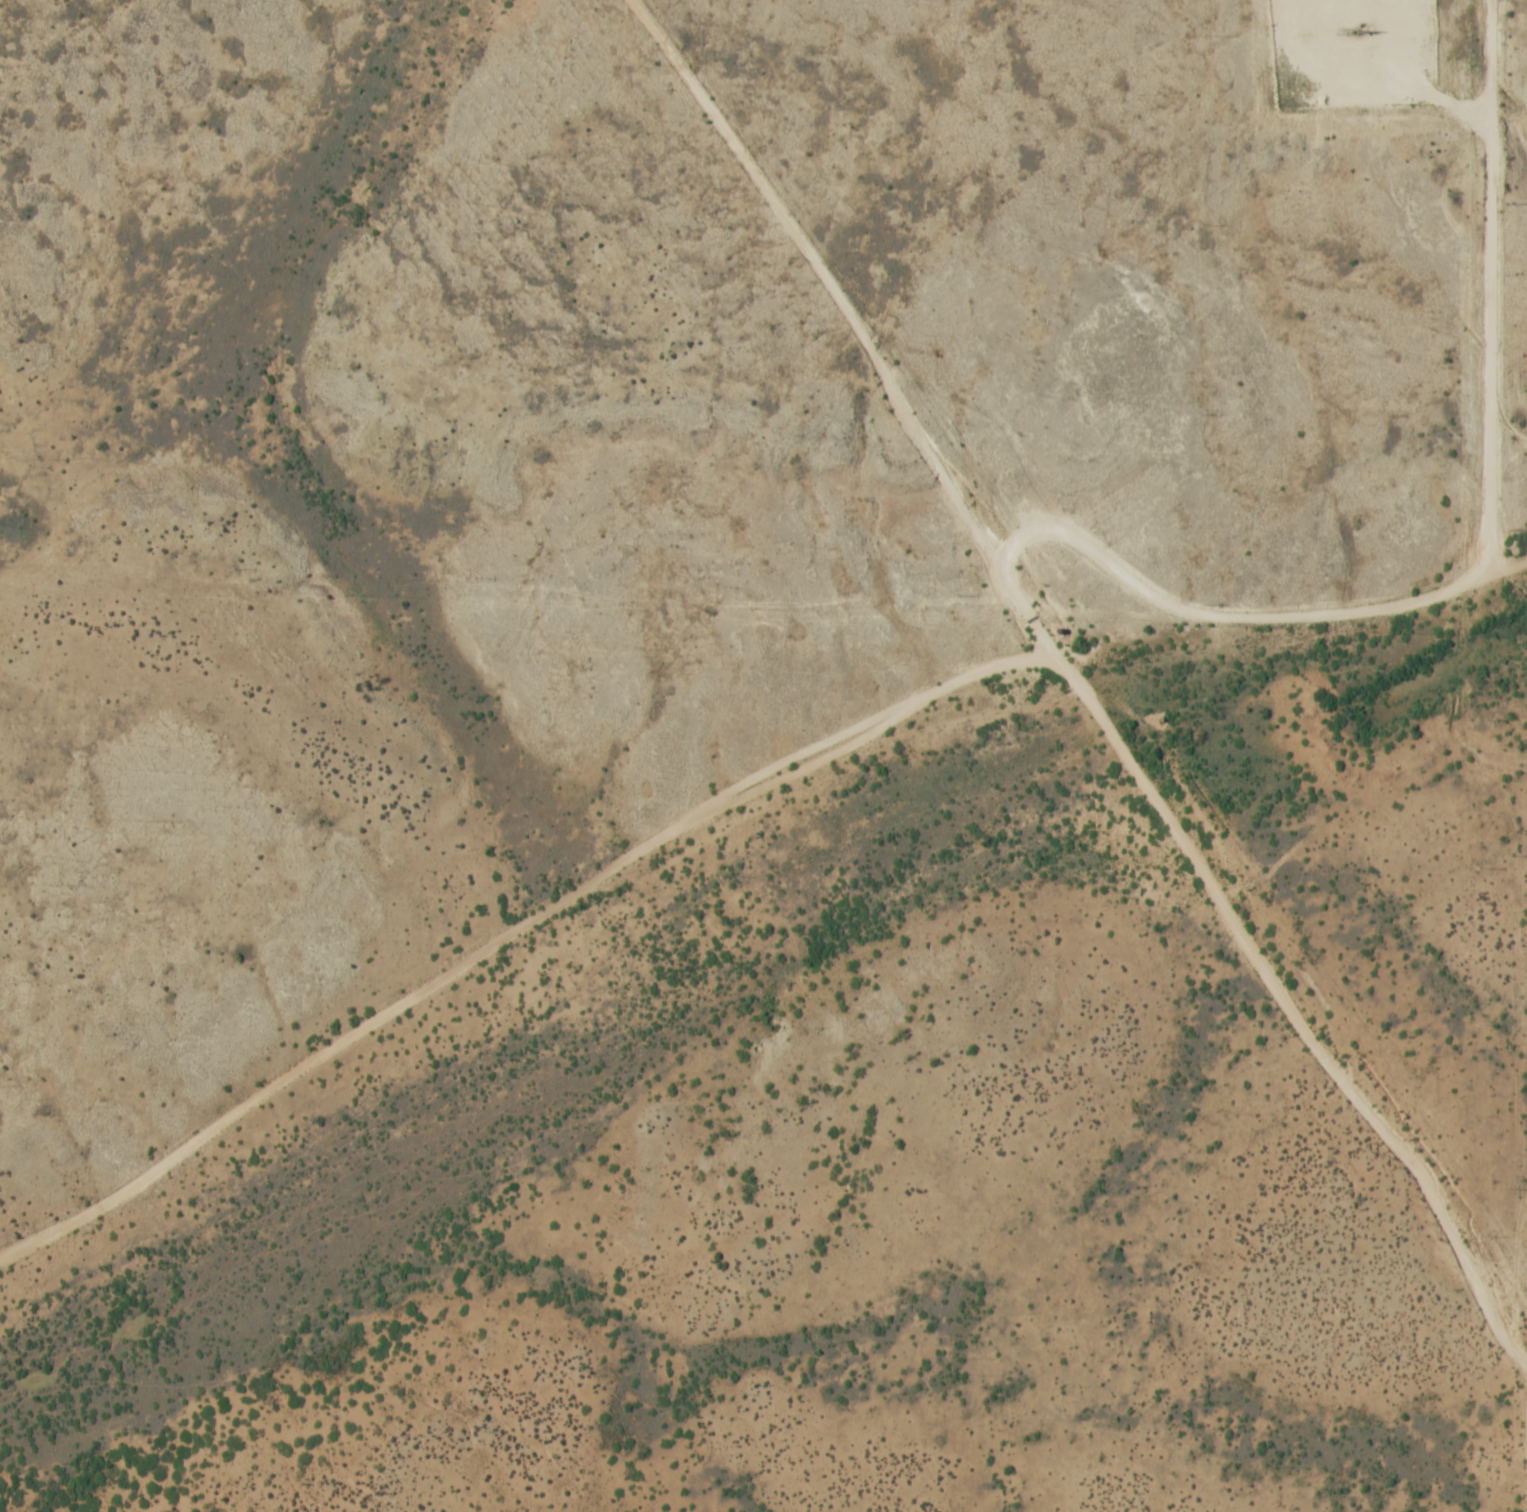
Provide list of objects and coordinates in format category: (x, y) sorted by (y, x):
petroleum well: (1352, 31)
road: (1382, 54)
power tower: (1511, 204)
road: (1488, 309)
power tower: (1510, 530)
road: (1247, 621)
road: (1073, 681)
power tower: (1513, 855)
road: (516, 928)
power tower: (1515, 1188)
road: (1524, 1452)
power tower: (1515, 1509)

